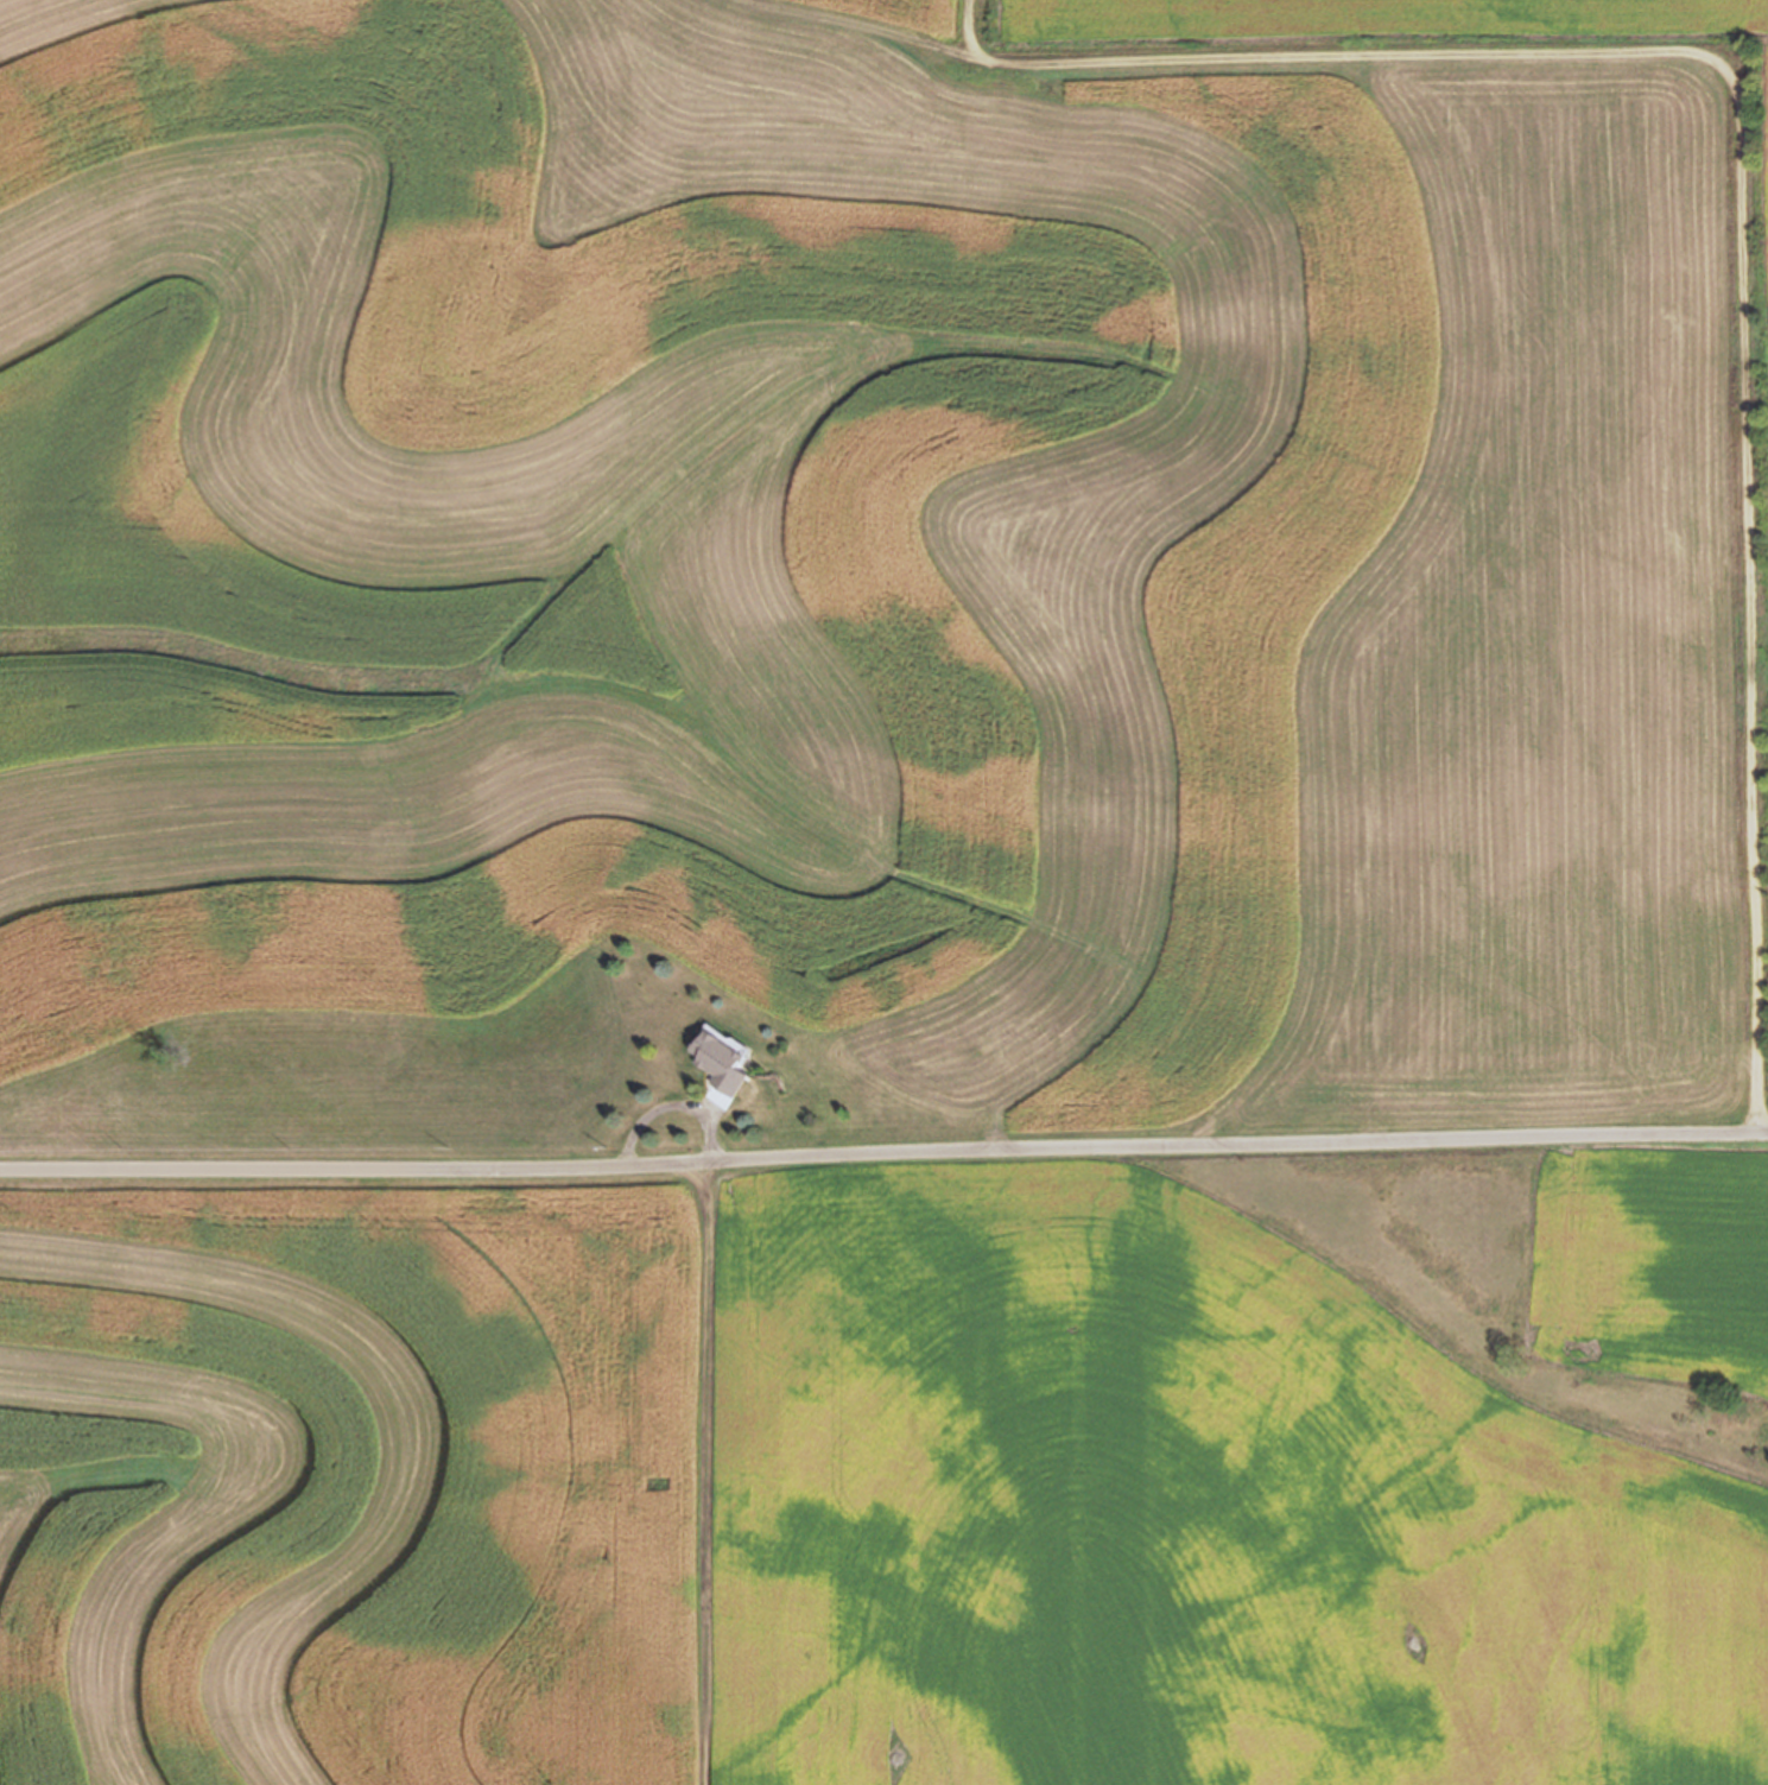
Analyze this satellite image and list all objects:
road: (1751, 196)
building: (721, 1061)
road: (883, 1152)

